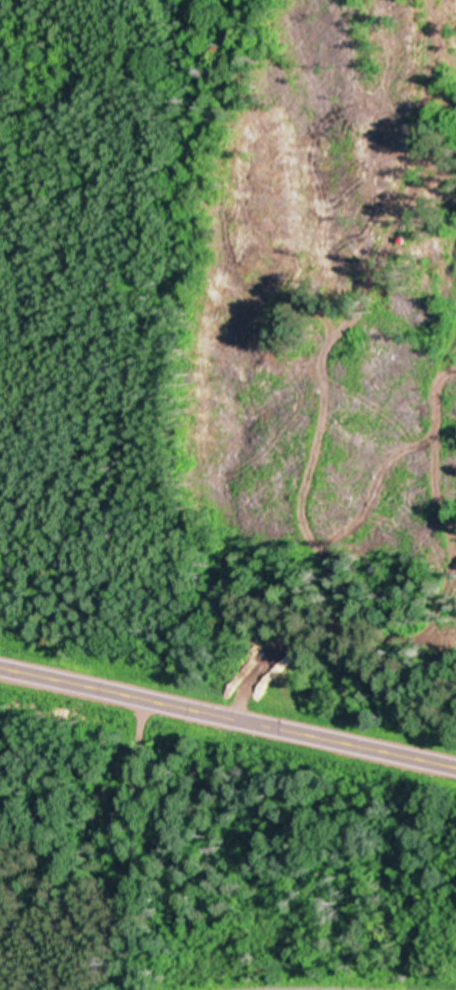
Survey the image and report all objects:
road: (227, 721)
road: (94, 845)

